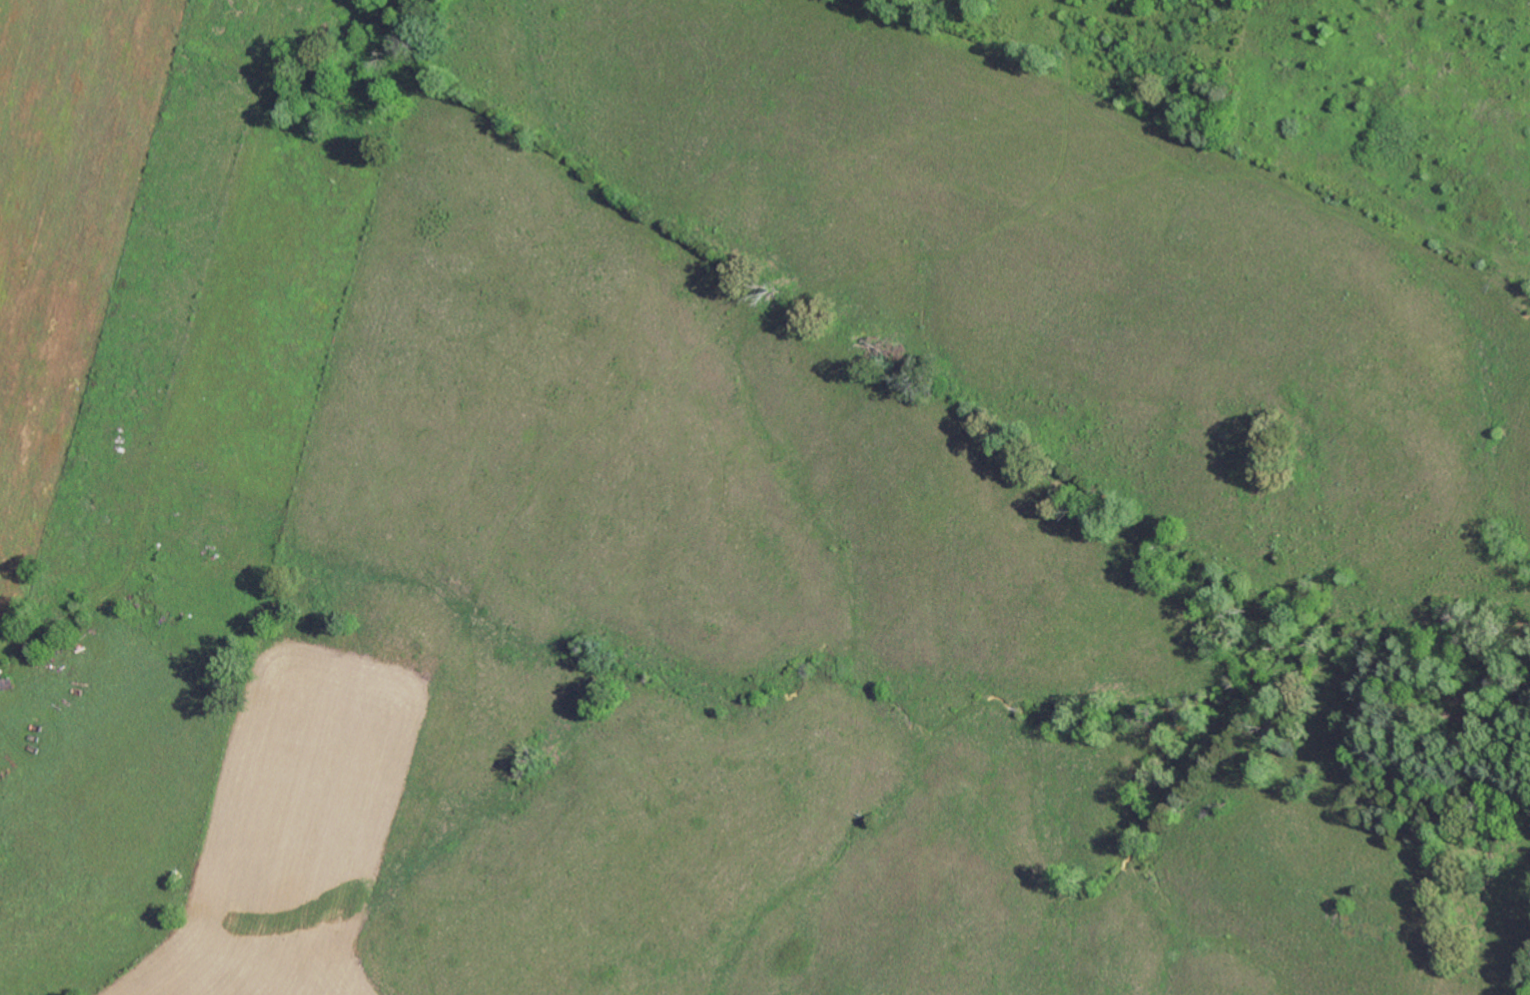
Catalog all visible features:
building: (6, 682)

